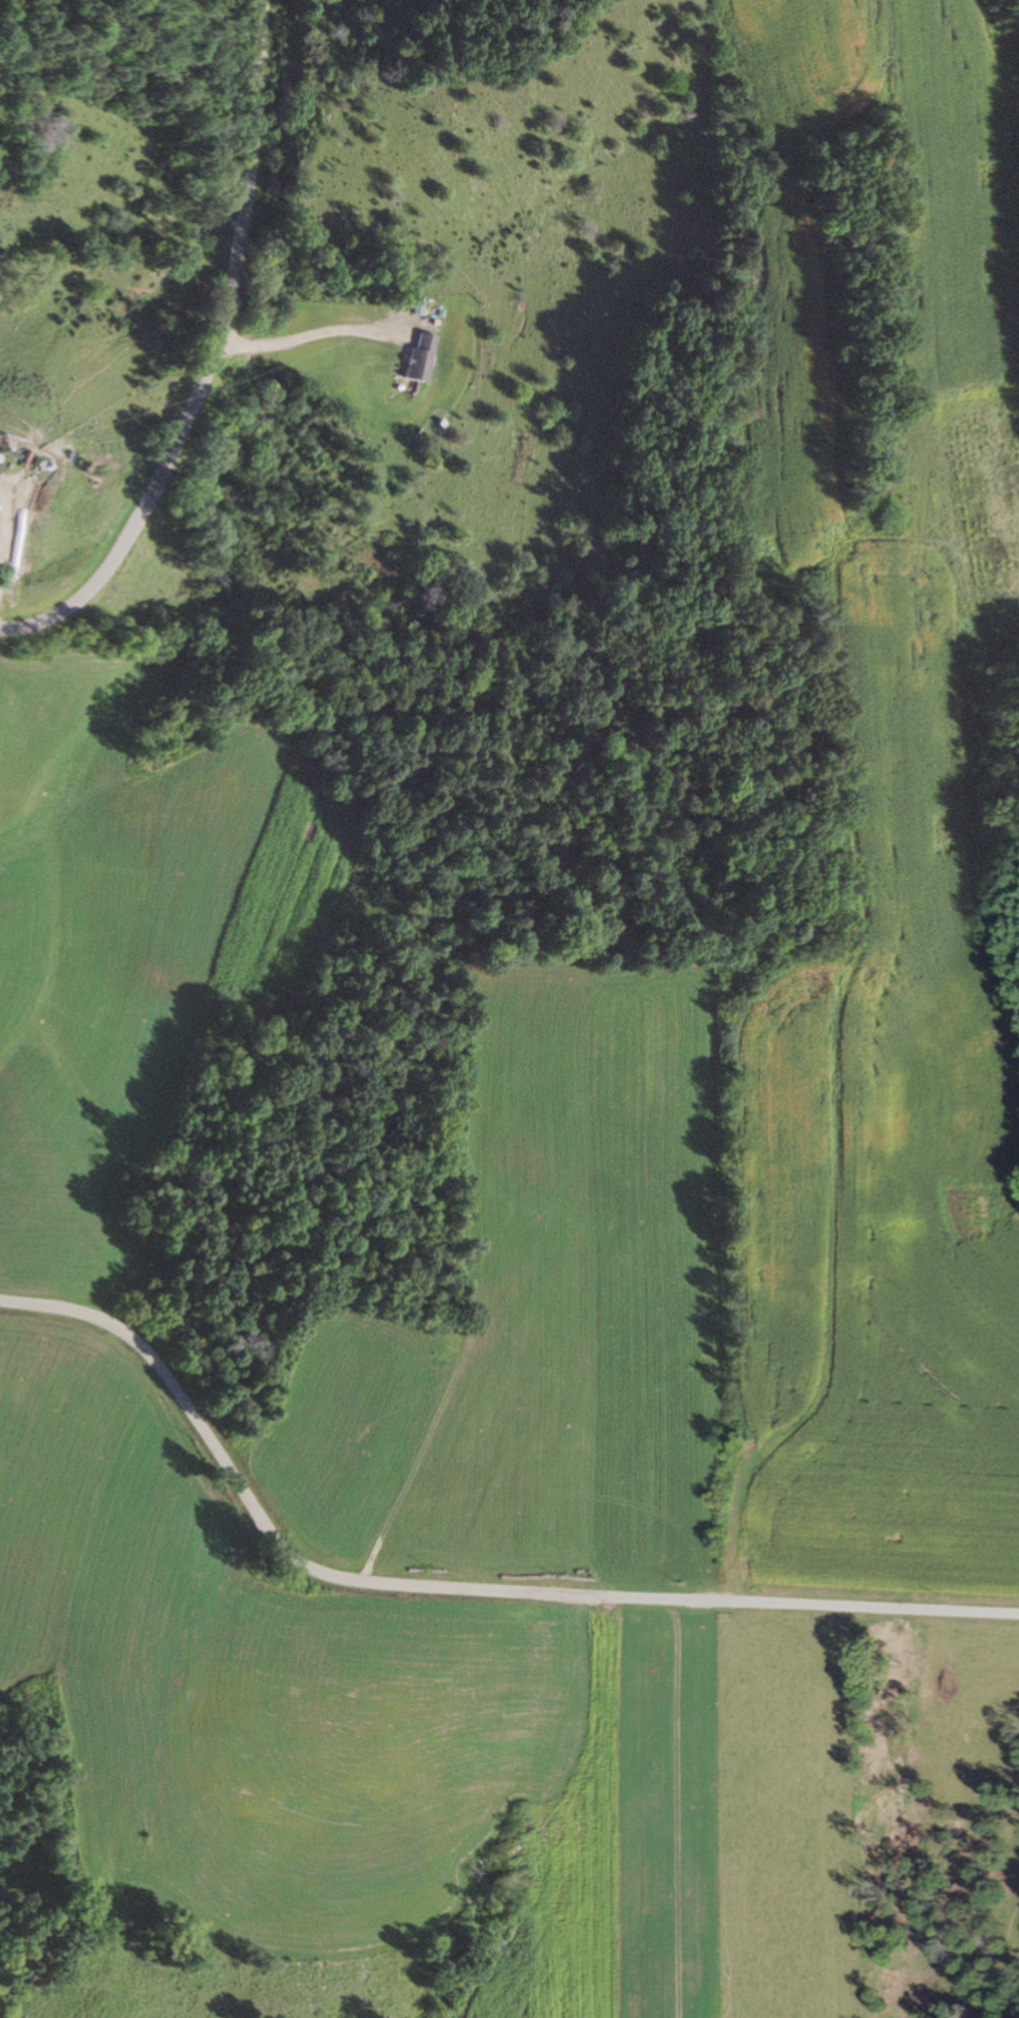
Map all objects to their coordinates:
road: (295, 344)
road: (206, 354)
building: (424, 358)
road: (450, 1589)

